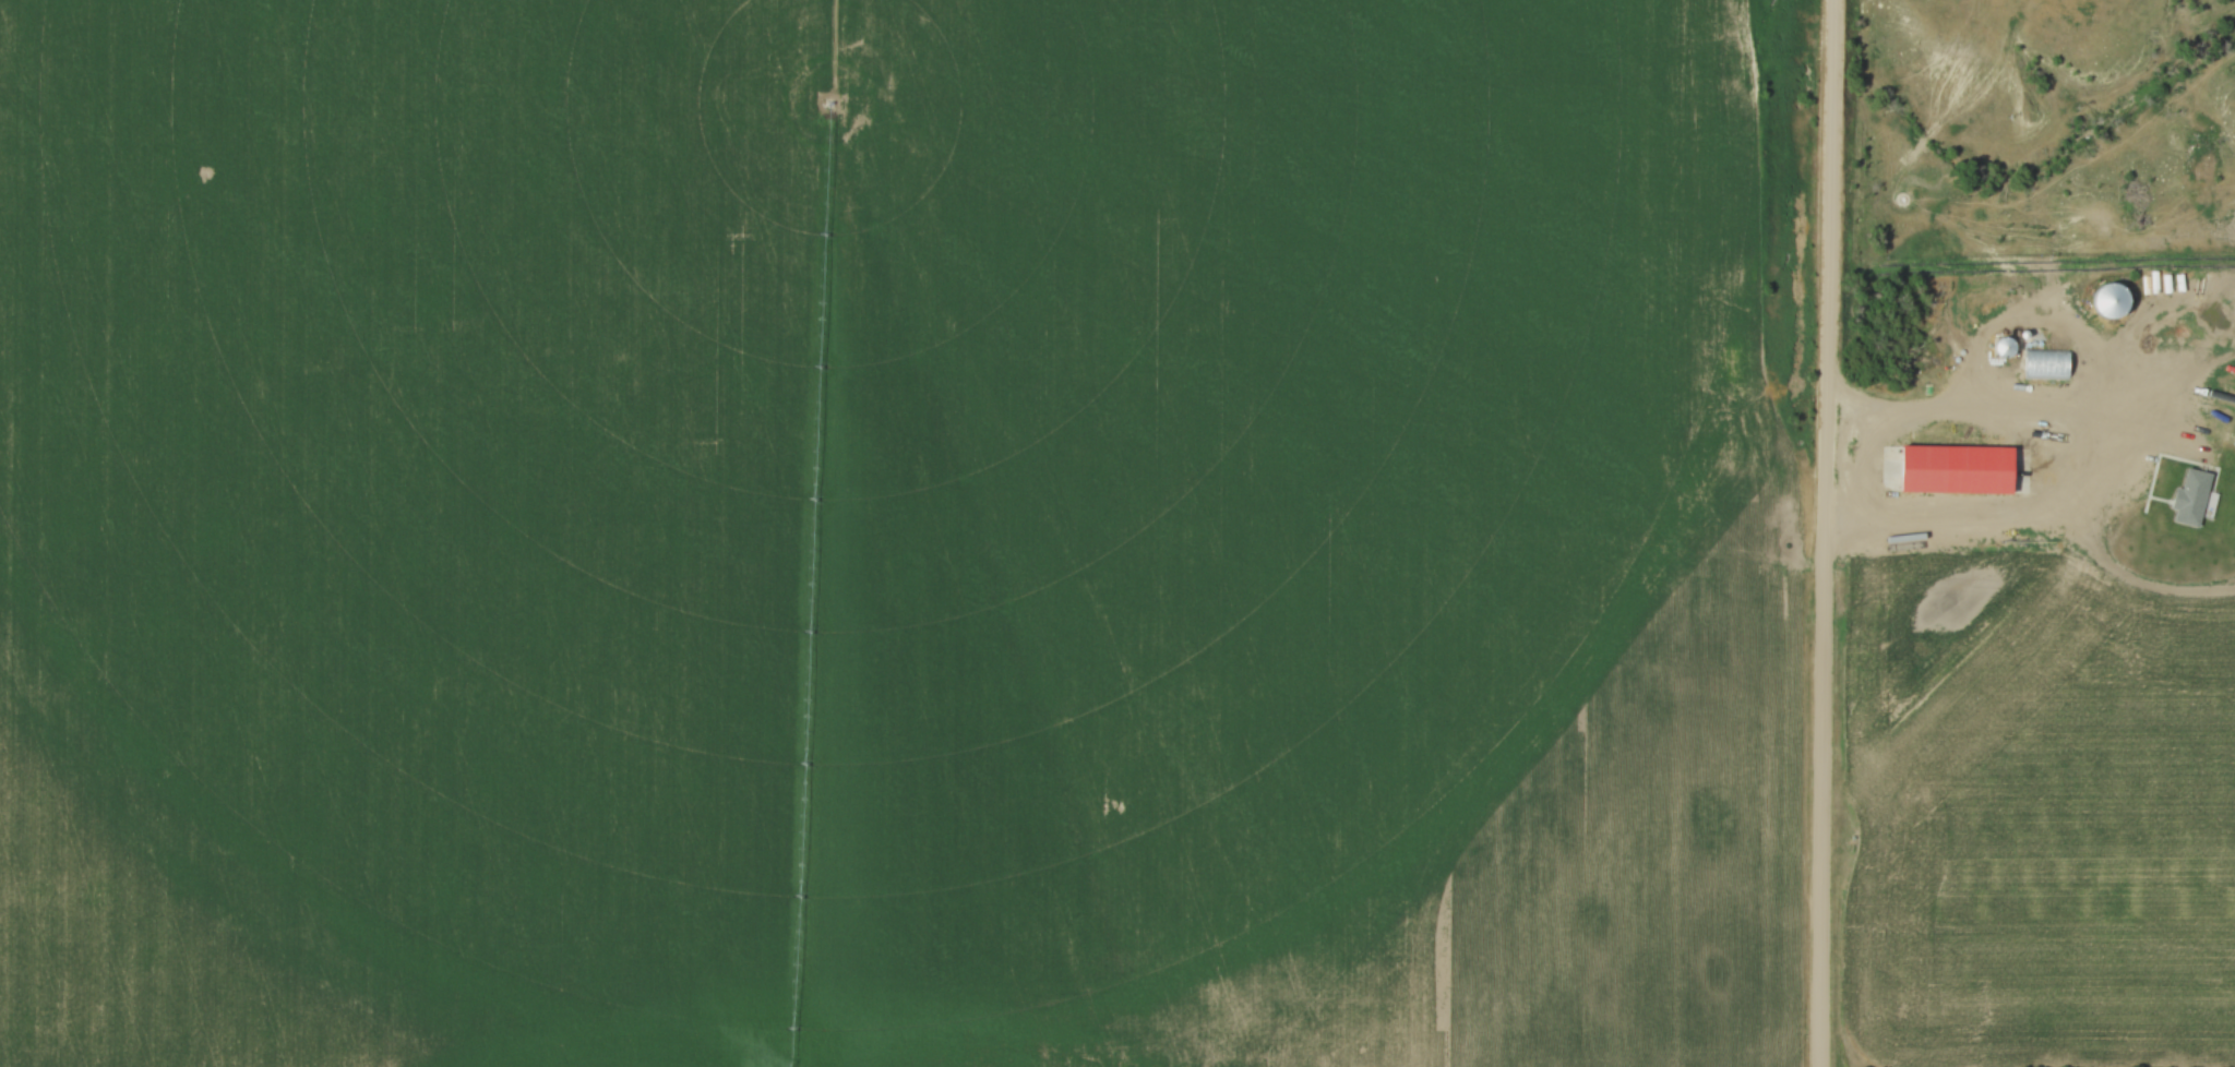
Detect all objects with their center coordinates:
building: (2109, 300)
building: (2006, 346)
building: (2046, 363)
road: (1917, 404)
road: (2064, 446)
building: (1999, 467)
road: (1825, 532)

